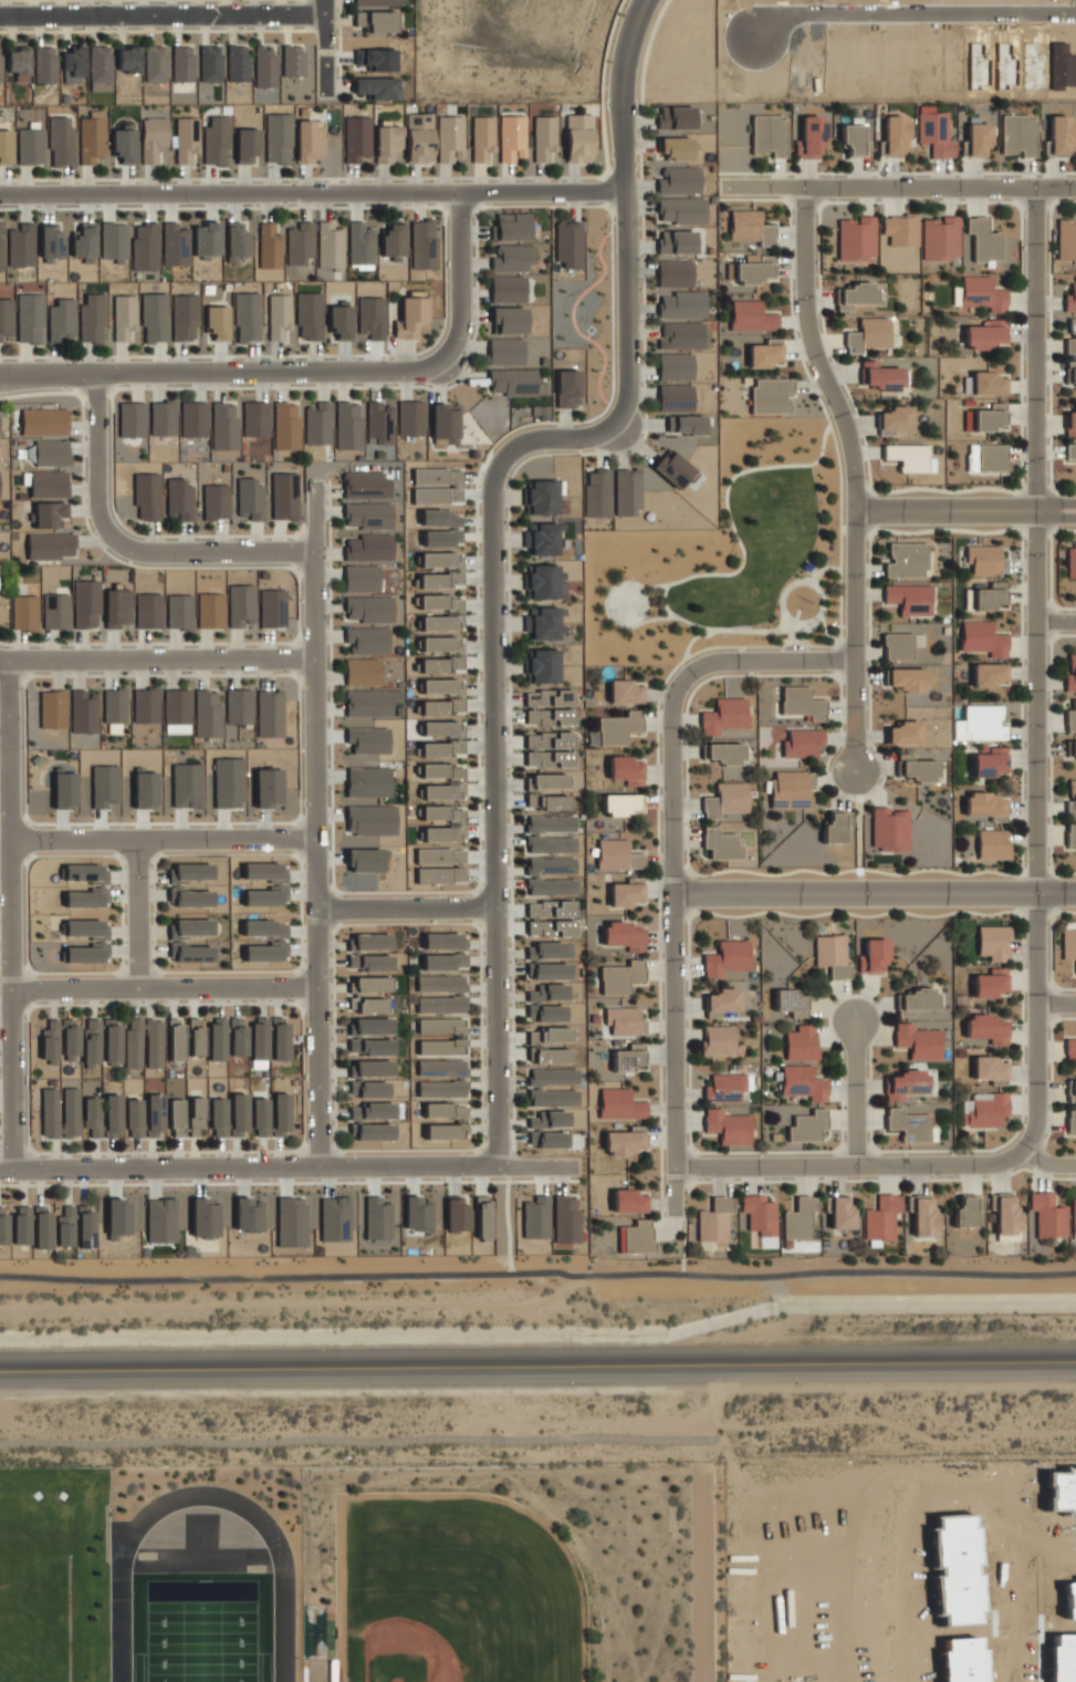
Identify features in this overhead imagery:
building: (376, 2)
road: (928, 10)
road: (161, 15)
road: (165, 30)
road: (324, 46)
building: (378, 59)
building: (127, 60)
building: (292, 61)
building: (19, 63)
building: (44, 63)
building: (155, 63)
building: (182, 63)
building: (210, 63)
building: (238, 63)
building: (73, 64)
building: (264, 66)
building: (100, 68)
building: (0, 77)
building: (377, 87)
building: (675, 117)
building: (933, 132)
building: (894, 134)
building: (1017, 134)
building: (767, 135)
building: (1058, 135)
building: (91, 137)
building: (418, 137)
building: (482, 137)
building: (511, 137)
building: (543, 137)
building: (577, 137)
building: (809, 137)
building: (276, 138)
building: (355, 138)
building: (449, 138)
building: (976, 138)
building: (153, 139)
building: (185, 139)
building: (853, 139)
building: (61, 141)
building: (215, 141)
building: (307, 141)
building: (124, 144)
building: (386, 144)
building: (246, 145)
building: (4, 146)
building: (29, 146)
building: (675, 147)
road: (389, 177)
building: (678, 179)
road: (898, 187)
road: (312, 193)
road: (460, 207)
road: (441, 208)
building: (680, 210)
building: (512, 227)
building: (750, 228)
building: (900, 229)
building: (856, 238)
building: (940, 238)
building: (982, 239)
building: (1066, 239)
building: (206, 240)
building: (236, 240)
building: (50, 241)
building: (113, 241)
building: (393, 241)
building: (676, 241)
building: (84, 242)
building: (300, 242)
building: (359, 243)
building: (20, 245)
building: (174, 245)
building: (422, 245)
building: (568, 245)
building: (269, 246)
building: (330, 246)
building: (145, 247)
building: (0, 249)
building: (511, 258)
building: (755, 268)
building: (673, 273)
road: (442, 274)
road: (460, 277)
building: (506, 289)
building: (982, 293)
building: (855, 298)
building: (1070, 299)
building: (681, 304)
building: (279, 315)
building: (309, 315)
building: (6, 316)
building: (246, 316)
building: (370, 316)
building: (409, 316)
building: (751, 316)
building: (29, 318)
building: (124, 318)
building: (154, 318)
building: (184, 318)
building: (60, 319)
building: (91, 319)
building: (339, 320)
building: (509, 320)
building: (216, 322)
building: (985, 334)
building: (681, 335)
building: (868, 335)
building: (1070, 338)
building: (504, 351)
building: (764, 353)
building: (675, 366)
road: (223, 372)
building: (1072, 373)
building: (881, 376)
building: (514, 382)
building: (988, 383)
road: (206, 386)
building: (566, 387)
road: (95, 390)
road: (112, 391)
road: (79, 393)
building: (770, 395)
building: (675, 397)
road: (823, 409)
building: (410, 417)
building: (989, 417)
building: (163, 418)
building: (194, 418)
building: (255, 418)
building: (132, 419)
building: (894, 419)
road: (827, 420)
building: (43, 422)
building: (317, 423)
building: (378, 423)
building: (443, 423)
building: (1070, 423)
building: (685, 424)
building: (223, 426)
building: (285, 426)
building: (347, 426)
building: (1070, 450)
building: (51, 453)
building: (907, 456)
building: (986, 457)
building: (672, 468)
road: (96, 475)
road: (853, 475)
building: (48, 484)
building: (366, 485)
building: (436, 486)
building: (627, 490)
building: (597, 494)
building: (147, 496)
building: (284, 496)
building: (541, 497)
building: (179, 499)
building: (249, 499)
building: (216, 501)
road: (964, 510)
building: (49, 515)
building: (367, 515)
building: (440, 528)
road: (890, 531)
road: (492, 534)
building: (545, 538)
building: (51, 546)
building: (367, 548)
road: (296, 551)
road: (229, 552)
park: (724, 556)
building: (983, 558)
building: (906, 560)
building: (1070, 561)
road: (259, 567)
building: (452, 570)
road: (727, 574)
building: (361, 578)
building: (545, 582)
road: (812, 583)
building: (988, 596)
building: (909, 599)
building: (439, 602)
park: (628, 603)
building: (85, 604)
building: (241, 605)
building: (116, 608)
building: (272, 608)
road: (604, 608)
building: (368, 609)
building: (148, 610)
building: (210, 610)
building: (55, 611)
building: (24, 612)
building: (179, 612)
building: (440, 622)
road: (1055, 622)
building: (546, 623)
road: (786, 623)
building: (983, 638)
building: (366, 640)
road: (762, 645)
building: (897, 646)
building: (440, 654)
road: (683, 655)
road: (294, 657)
road: (686, 657)
road: (160, 661)
building: (543, 665)
road: (1035, 669)
building: (362, 672)
building: (988, 674)
building: (1070, 674)
road: (13, 675)
building: (906, 678)
road: (297, 684)
building: (625, 692)
building: (441, 696)
building: (368, 703)
building: (802, 703)
building: (145, 705)
building: (114, 706)
building: (238, 706)
building: (547, 707)
building: (52, 709)
building: (176, 710)
building: (83, 712)
building: (207, 713)
building: (269, 713)
building: (723, 716)
building: (1070, 717)
building: (983, 723)
building: (617, 727)
building: (442, 728)
building: (959, 729)
building: (903, 733)
building: (367, 740)
building: (802, 743)
building: (439, 748)
building: (549, 749)
building: (1072, 750)
building: (722, 752)
road: (330, 762)
building: (990, 762)
building: (916, 768)
building: (626, 770)
building: (367, 781)
building: (441, 781)
building: (228, 782)
building: (103, 785)
building: (187, 785)
building: (268, 787)
building: (64, 788)
building: (144, 788)
building: (791, 788)
building: (533, 791)
building: (725, 800)
building: (1072, 800)
building: (619, 803)
building: (984, 806)
road: (857, 819)
building: (370, 820)
building: (455, 823)
road: (313, 826)
building: (835, 826)
building: (889, 829)
building: (550, 833)
building: (1070, 834)
road: (296, 838)
road: (28, 839)
road: (163, 840)
building: (992, 843)
building: (720, 844)
road: (289, 853)
building: (439, 855)
building: (616, 855)
road: (33, 856)
road: (672, 856)
road: (136, 858)
building: (366, 860)
building: (188, 872)
building: (440, 874)
building: (550, 875)
building: (276, 884)
building: (98, 887)
building: (626, 892)
road: (874, 893)
building: (190, 897)
road: (476, 906)
road: (334, 907)
road: (405, 907)
road: (12, 912)
road: (136, 913)
building: (550, 917)
road: (1021, 921)
road: (463, 924)
building: (187, 930)
building: (624, 935)
building: (276, 939)
building: (85, 941)
building: (443, 941)
building: (370, 942)
building: (992, 942)
building: (1068, 943)
building: (544, 949)
building: (191, 953)
building: (832, 955)
building: (873, 956)
road: (658, 958)
building: (725, 958)
building: (443, 962)
building: (368, 963)
road: (138, 969)
building: (549, 970)
building: (619, 976)
building: (990, 983)
building: (370, 984)
road: (164, 986)
road: (299, 987)
road: (29, 989)
building: (547, 993)
building: (440, 994)
building: (915, 1000)
building: (790, 1003)
road: (288, 1004)
building: (721, 1004)
road: (1056, 1004)
building: (367, 1005)
building: (545, 1013)
building: (624, 1020)
building: (372, 1026)
building: (988, 1029)
building: (549, 1035)
building: (195, 1036)
building: (237, 1036)
building: (457, 1036)
building: (279, 1038)
building: (50, 1039)
building: (69, 1039)
building: (91, 1039)
building: (216, 1039)
building: (176, 1040)
building: (717, 1040)
building: (259, 1041)
building: (918, 1041)
building: (111, 1042)
building: (154, 1042)
building: (801, 1042)
building: (133, 1044)
building: (369, 1047)
building: (1070, 1049)
building: (551, 1056)
building: (627, 1057)
building: (373, 1068)
building: (552, 1076)
building: (441, 1078)
building: (802, 1082)
building: (905, 1084)
building: (723, 1087)
building: (1072, 1088)
building: (367, 1089)
road: (855, 1094)
building: (553, 1097)
building: (619, 1104)
building: (984, 1110)
building: (370, 1111)
building: (60, 1112)
building: (154, 1114)
building: (195, 1114)
building: (238, 1114)
building: (280, 1114)
building: (92, 1115)
building: (112, 1115)
building: (217, 1117)
building: (260, 1117)
building: (134, 1118)
building: (175, 1118)
building: (461, 1120)
building: (547, 1120)
building: (1070, 1120)
building: (908, 1124)
building: (806, 1125)
building: (727, 1126)
building: (373, 1132)
building: (546, 1140)
building: (625, 1141)
road: (317, 1148)
road: (15, 1152)
road: (879, 1165)
road: (284, 1167)
road: (867, 1179)
building: (628, 1201)
building: (965, 1211)
building: (417, 1213)
building: (456, 1213)
building: (840, 1213)
building: (247, 1214)
building: (759, 1214)
building: (1047, 1215)
building: (482, 1216)
building: (922, 1216)
building: (1005, 1216)
building: (205, 1217)
building: (535, 1217)
building: (881, 1217)
building: (117, 1218)
building: (334, 1218)
building: (377, 1218)
building: (565, 1218)
building: (798, 1218)
building: (1074, 1218)
building: (160, 1219)
building: (714, 1219)
road: (506, 1221)
building: (291, 1222)
building: (2, 1225)
building: (21, 1225)
building: (41, 1226)
building: (64, 1226)
building: (84, 1226)
building: (635, 1237)
road: (682, 1242)
road: (539, 1273)
road: (537, 1359)
park: (451, 1591)
track: (118, 1626)
park: (205, 1631)

